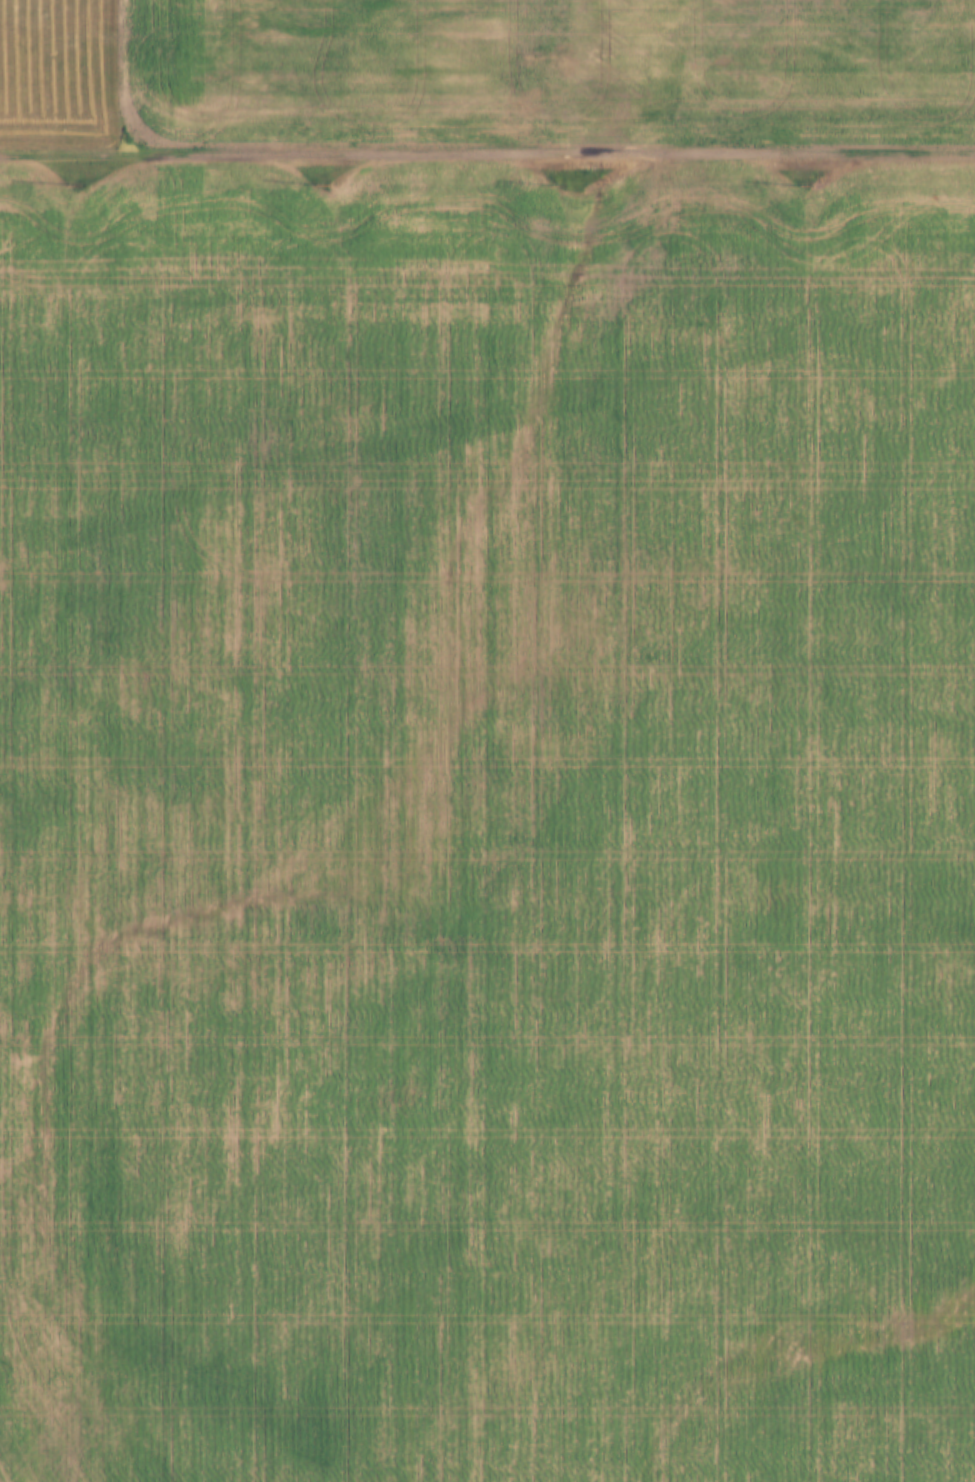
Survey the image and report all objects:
road: (487, 146)

